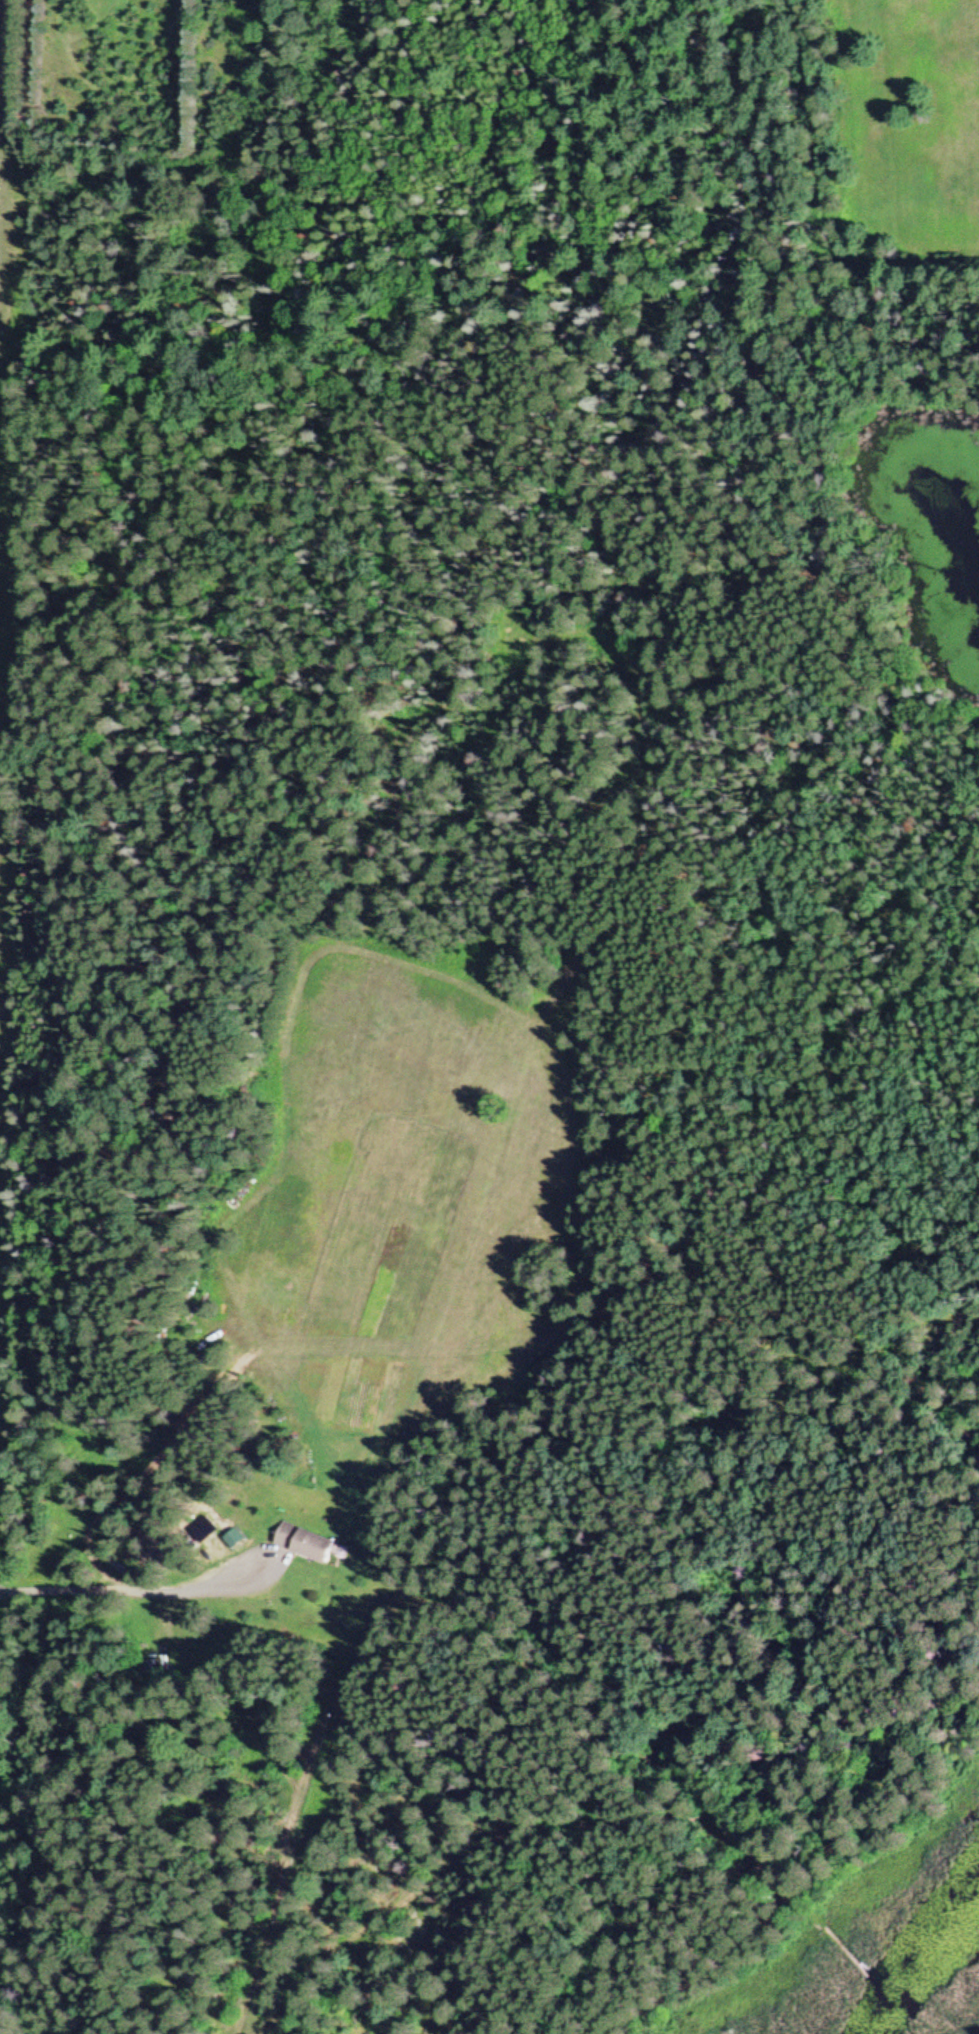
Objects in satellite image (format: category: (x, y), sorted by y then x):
building: (203, 1529)
building: (306, 1542)
building: (149, 1668)
river: (918, 1950)

